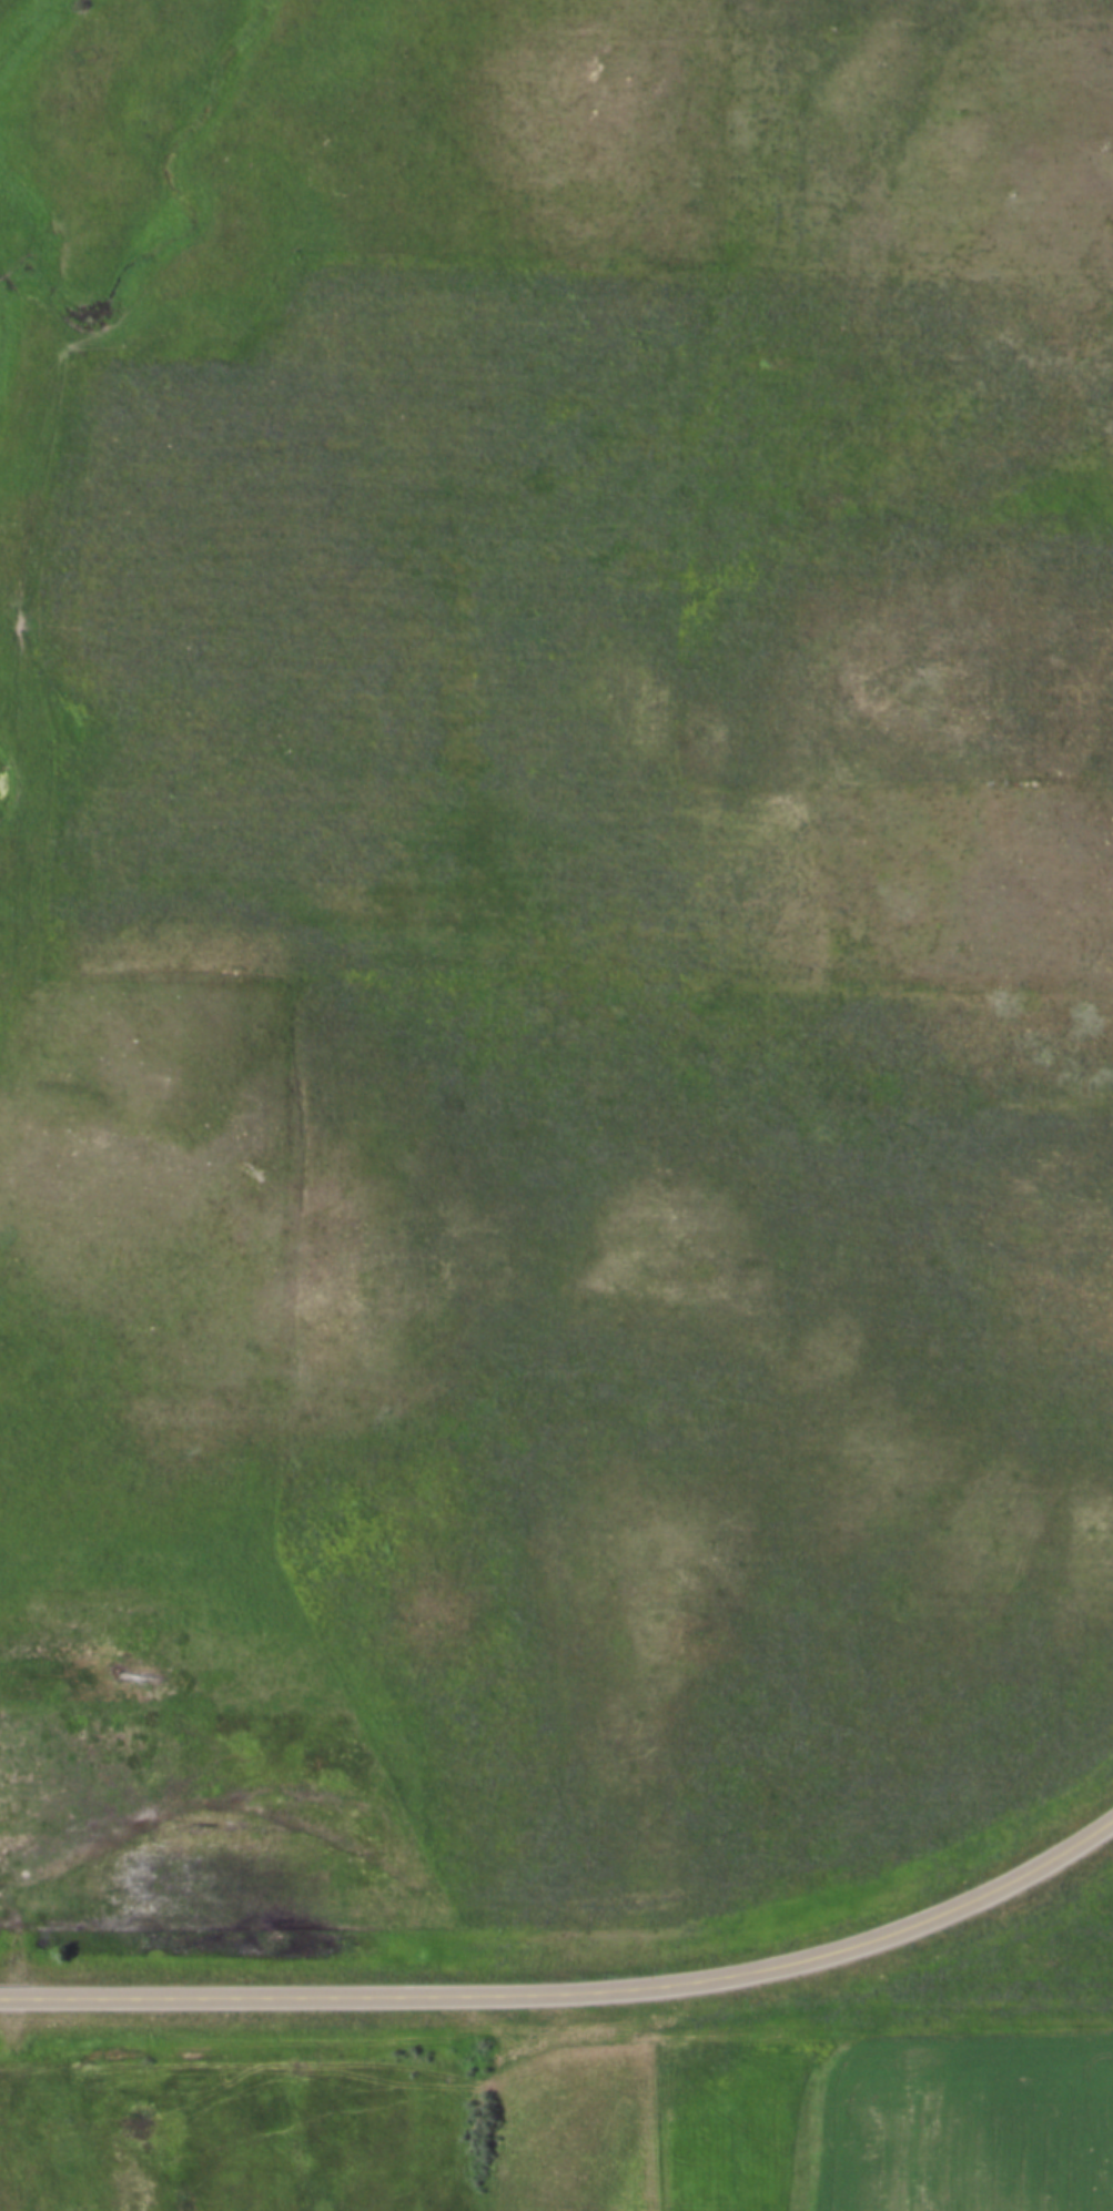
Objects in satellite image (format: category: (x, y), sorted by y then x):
road: (573, 1994)

